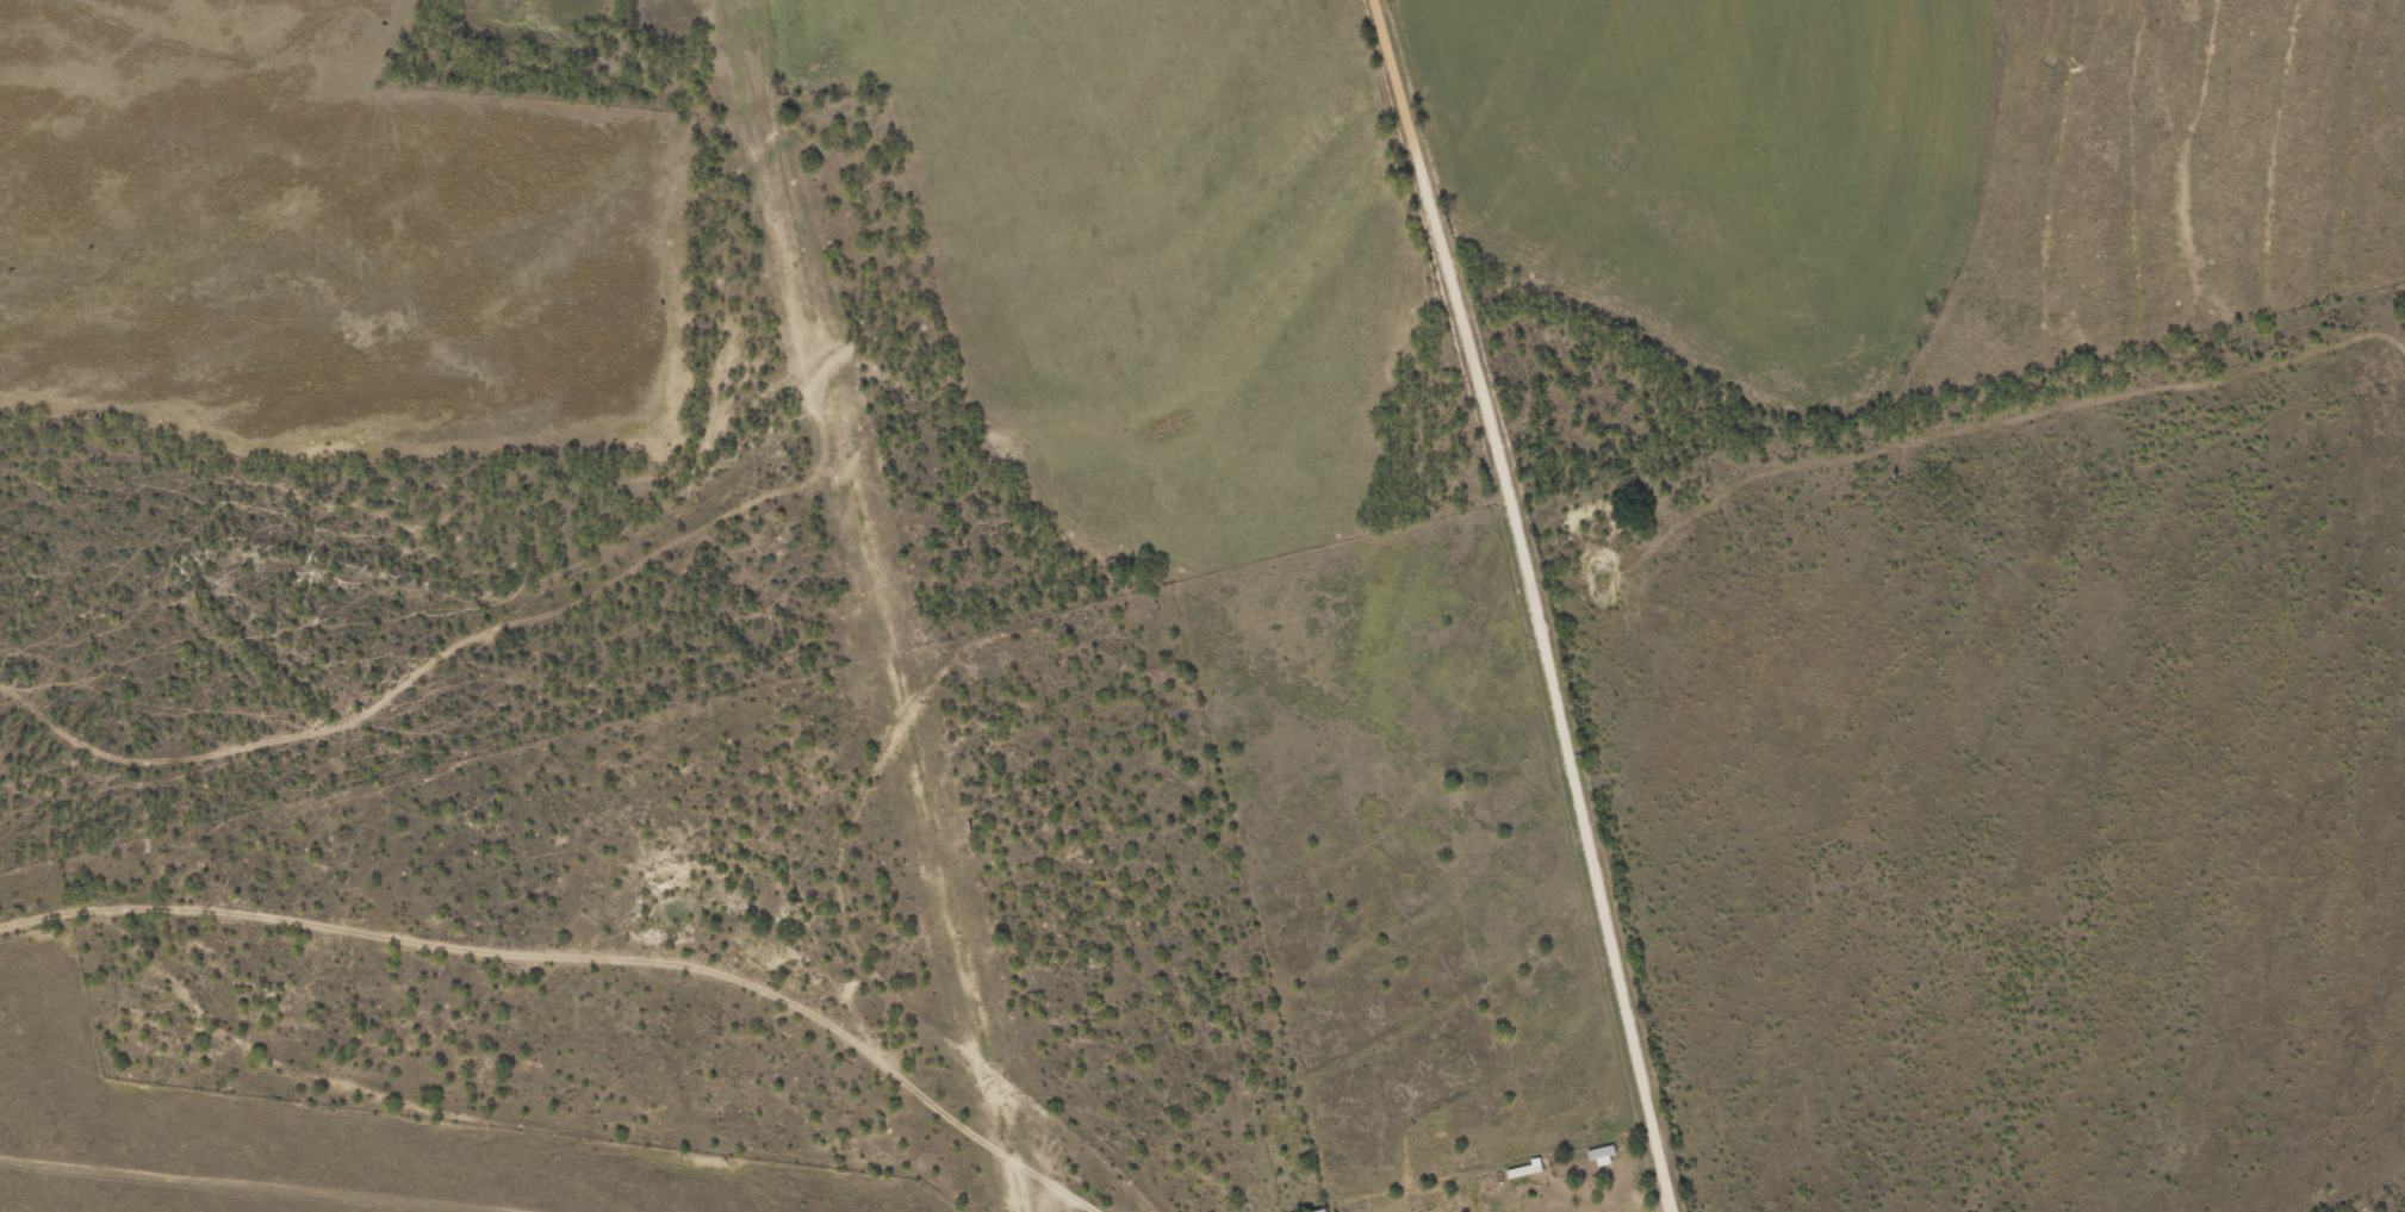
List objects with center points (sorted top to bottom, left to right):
road: (1521, 598)
building: (1602, 1155)
building: (1323, 1211)

